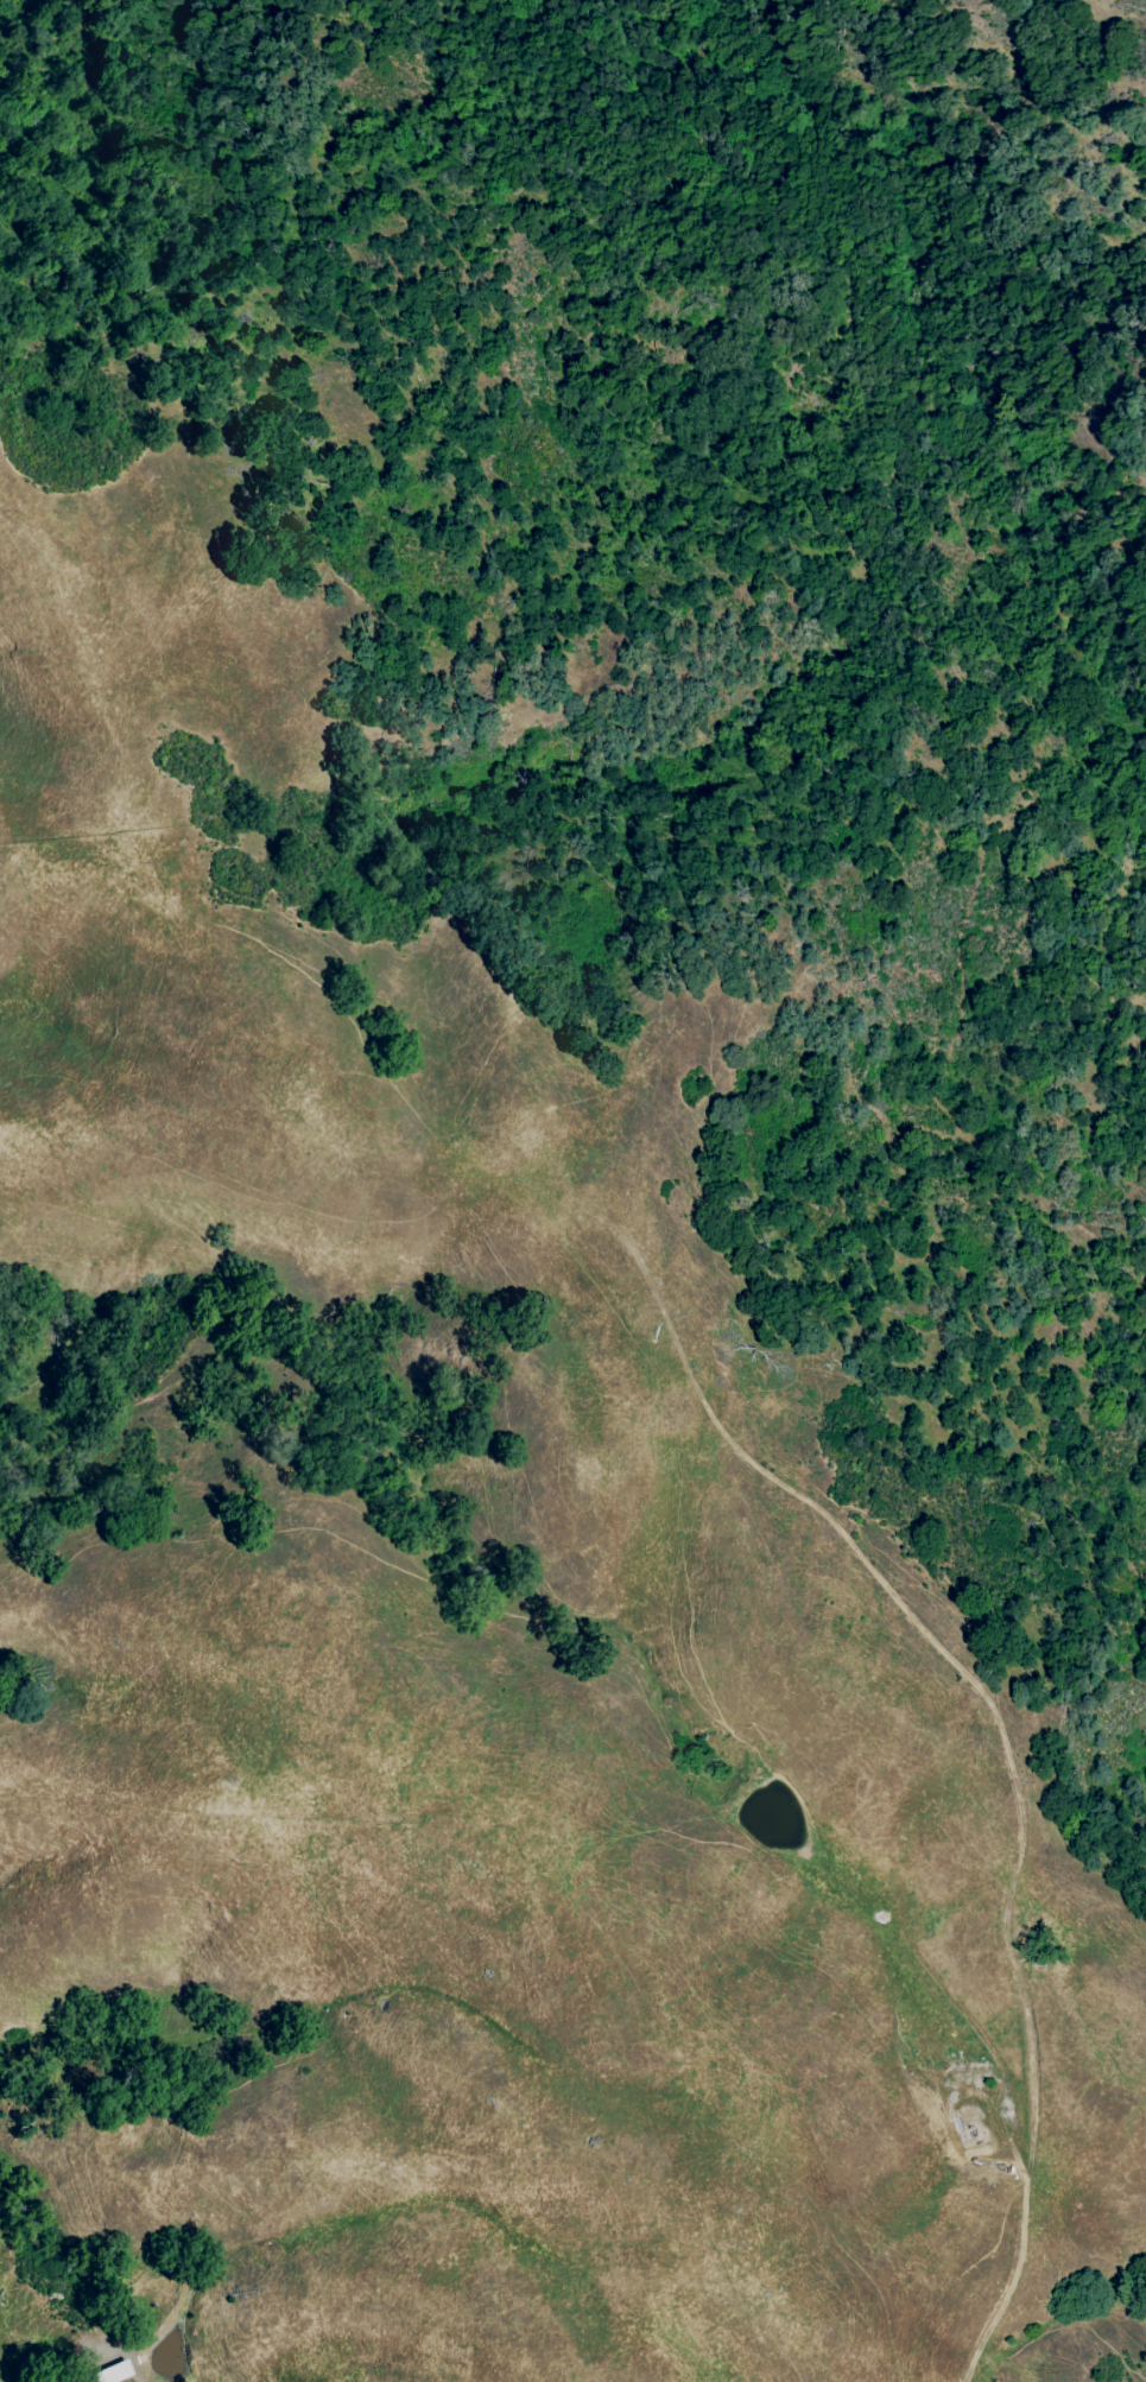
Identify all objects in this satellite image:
building: (105, 2374)

